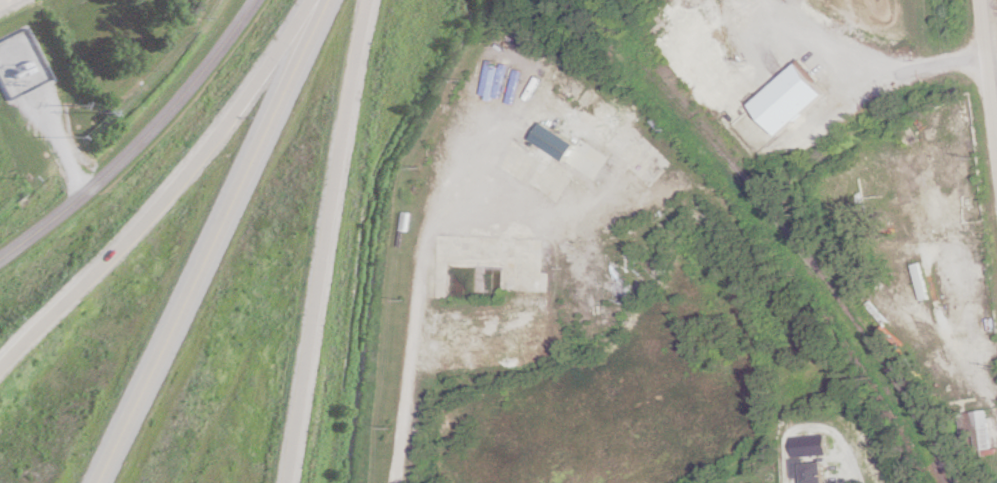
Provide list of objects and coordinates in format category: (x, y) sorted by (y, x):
road: (869, 60)
building: (22, 64)
road: (988, 79)
building: (727, 98)
building: (793, 98)
road: (140, 141)
road: (62, 142)
road: (169, 192)
railway: (785, 226)
road: (323, 240)
road: (213, 242)
road: (406, 300)
road: (834, 428)
building: (982, 430)
building: (811, 446)
building: (809, 471)

